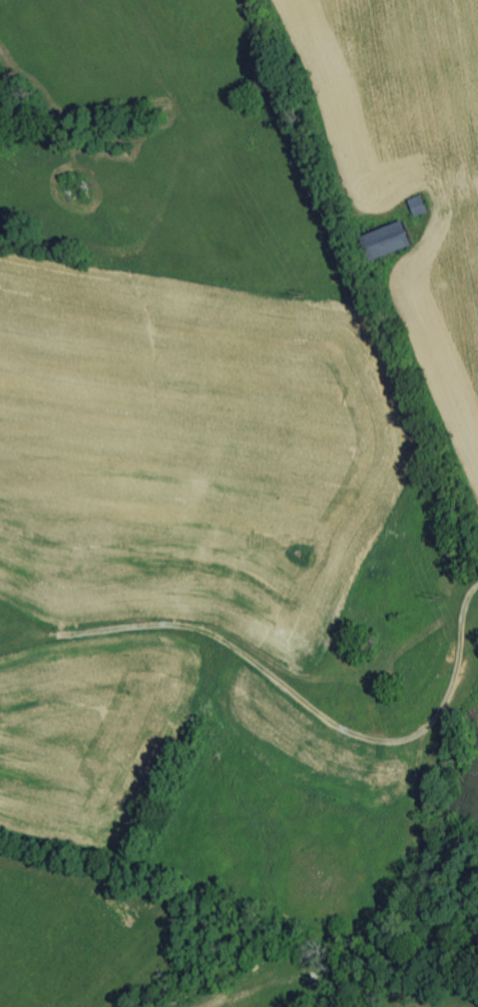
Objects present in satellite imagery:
building: (417, 204)
building: (386, 239)
road: (428, 669)

